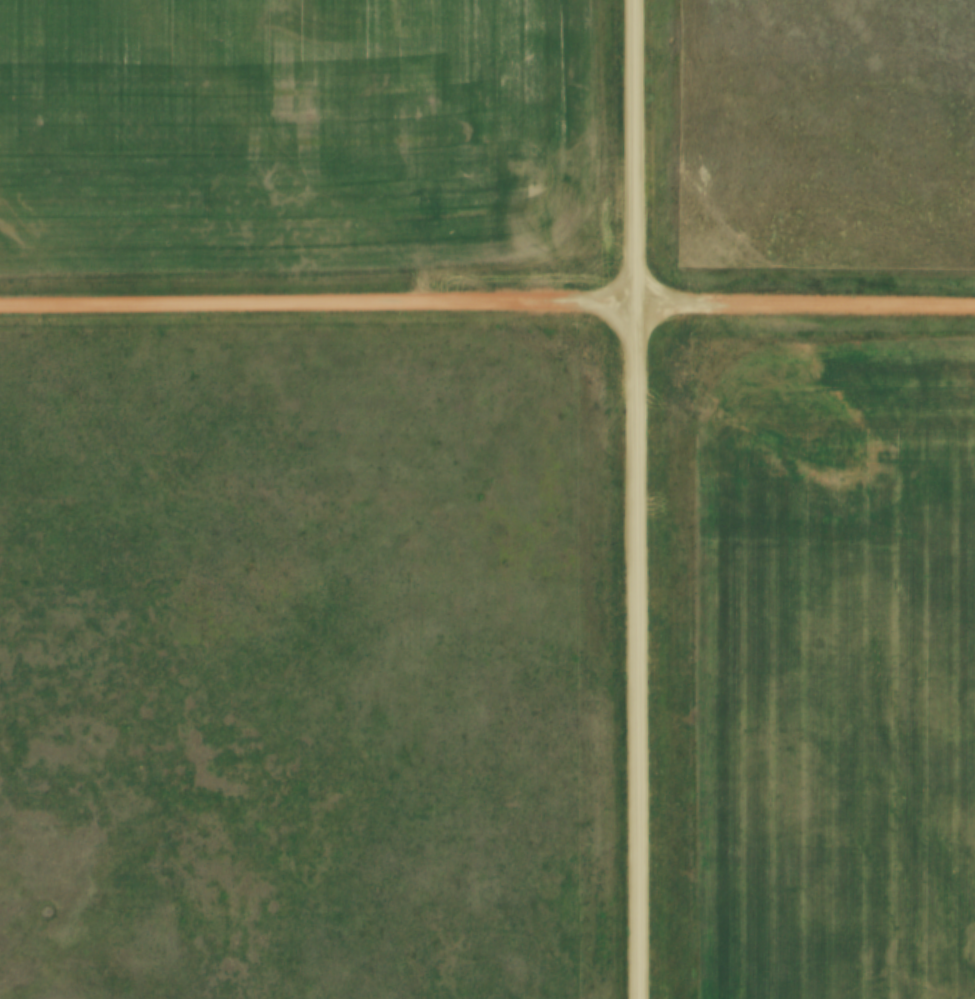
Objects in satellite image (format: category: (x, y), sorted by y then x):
road: (487, 303)
road: (635, 499)

